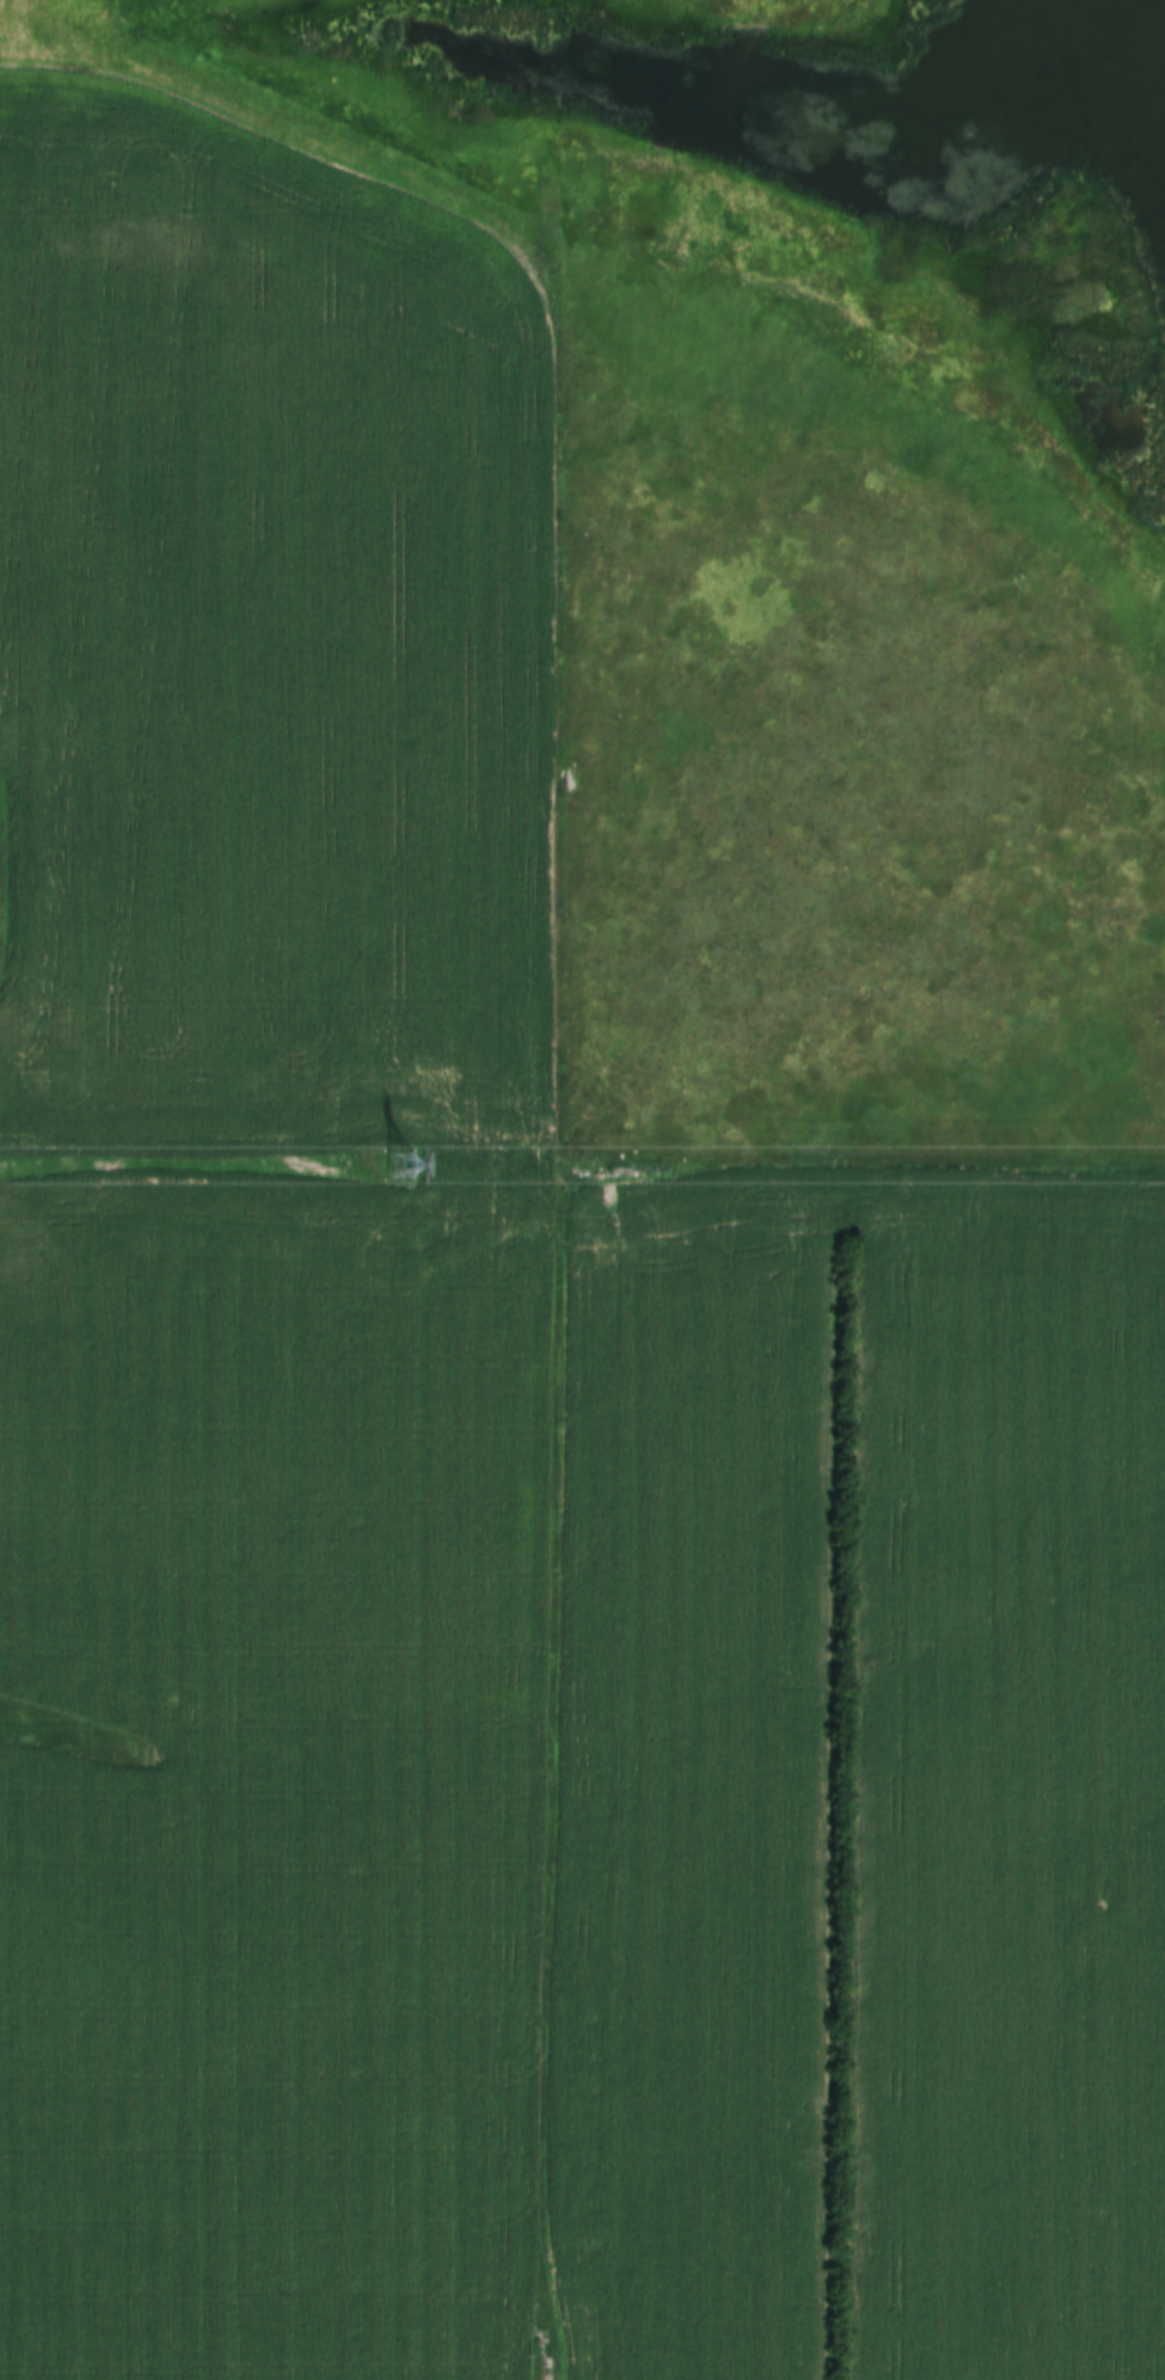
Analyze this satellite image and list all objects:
power tower: (397, 1166)

